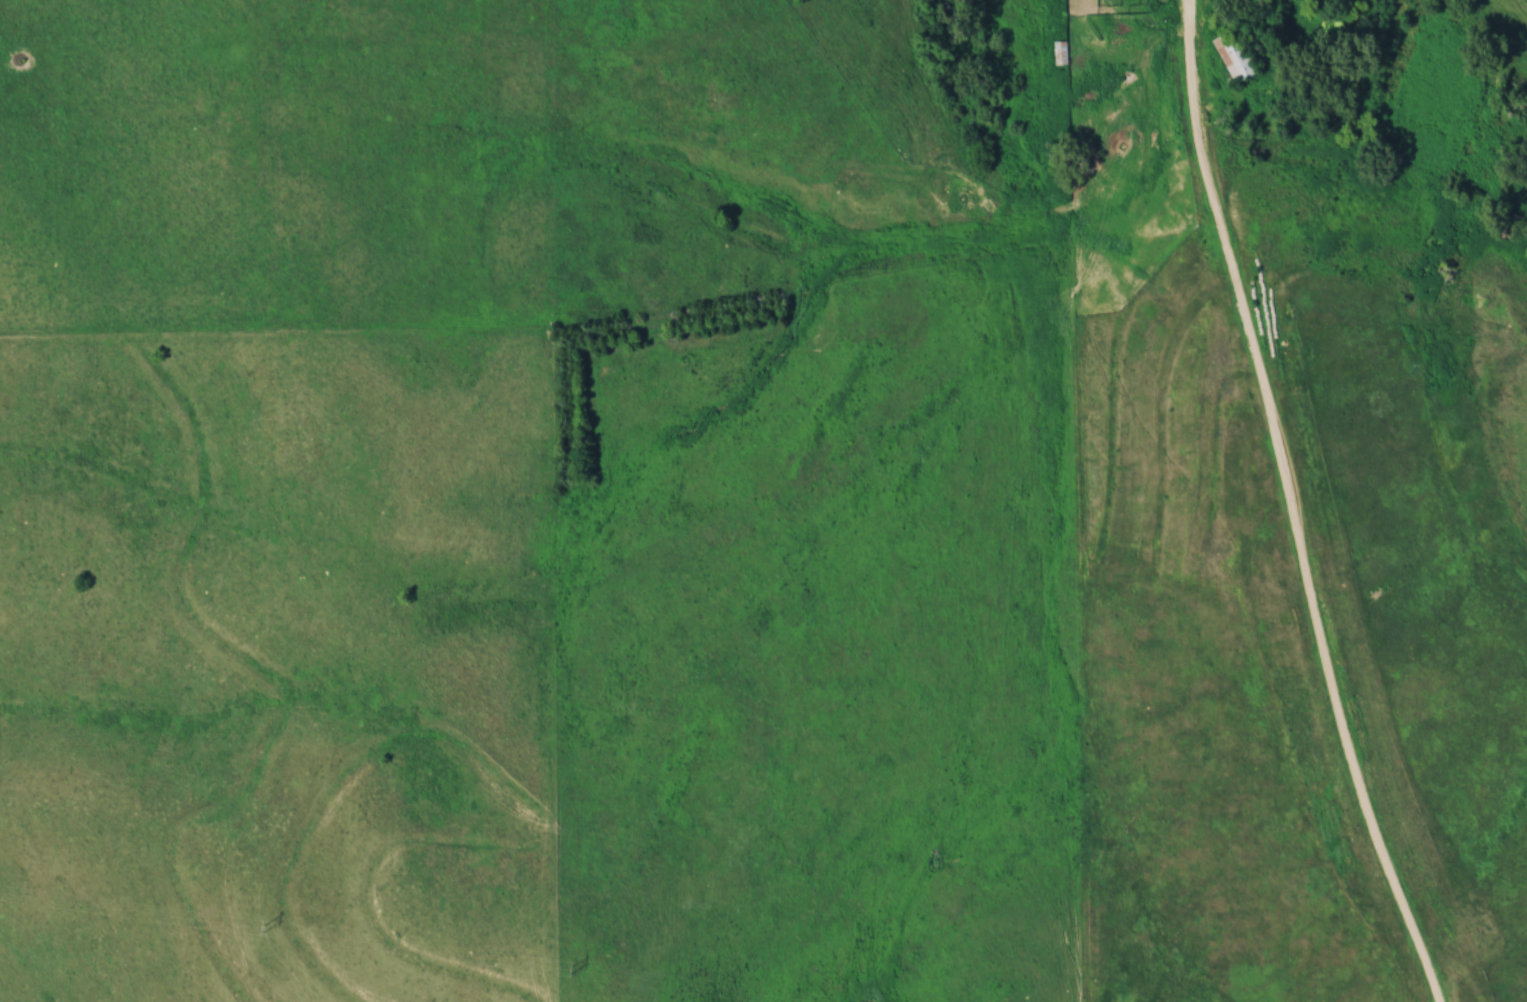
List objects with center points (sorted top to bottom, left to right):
building: (1061, 51)
building: (1237, 53)
road: (1291, 507)

